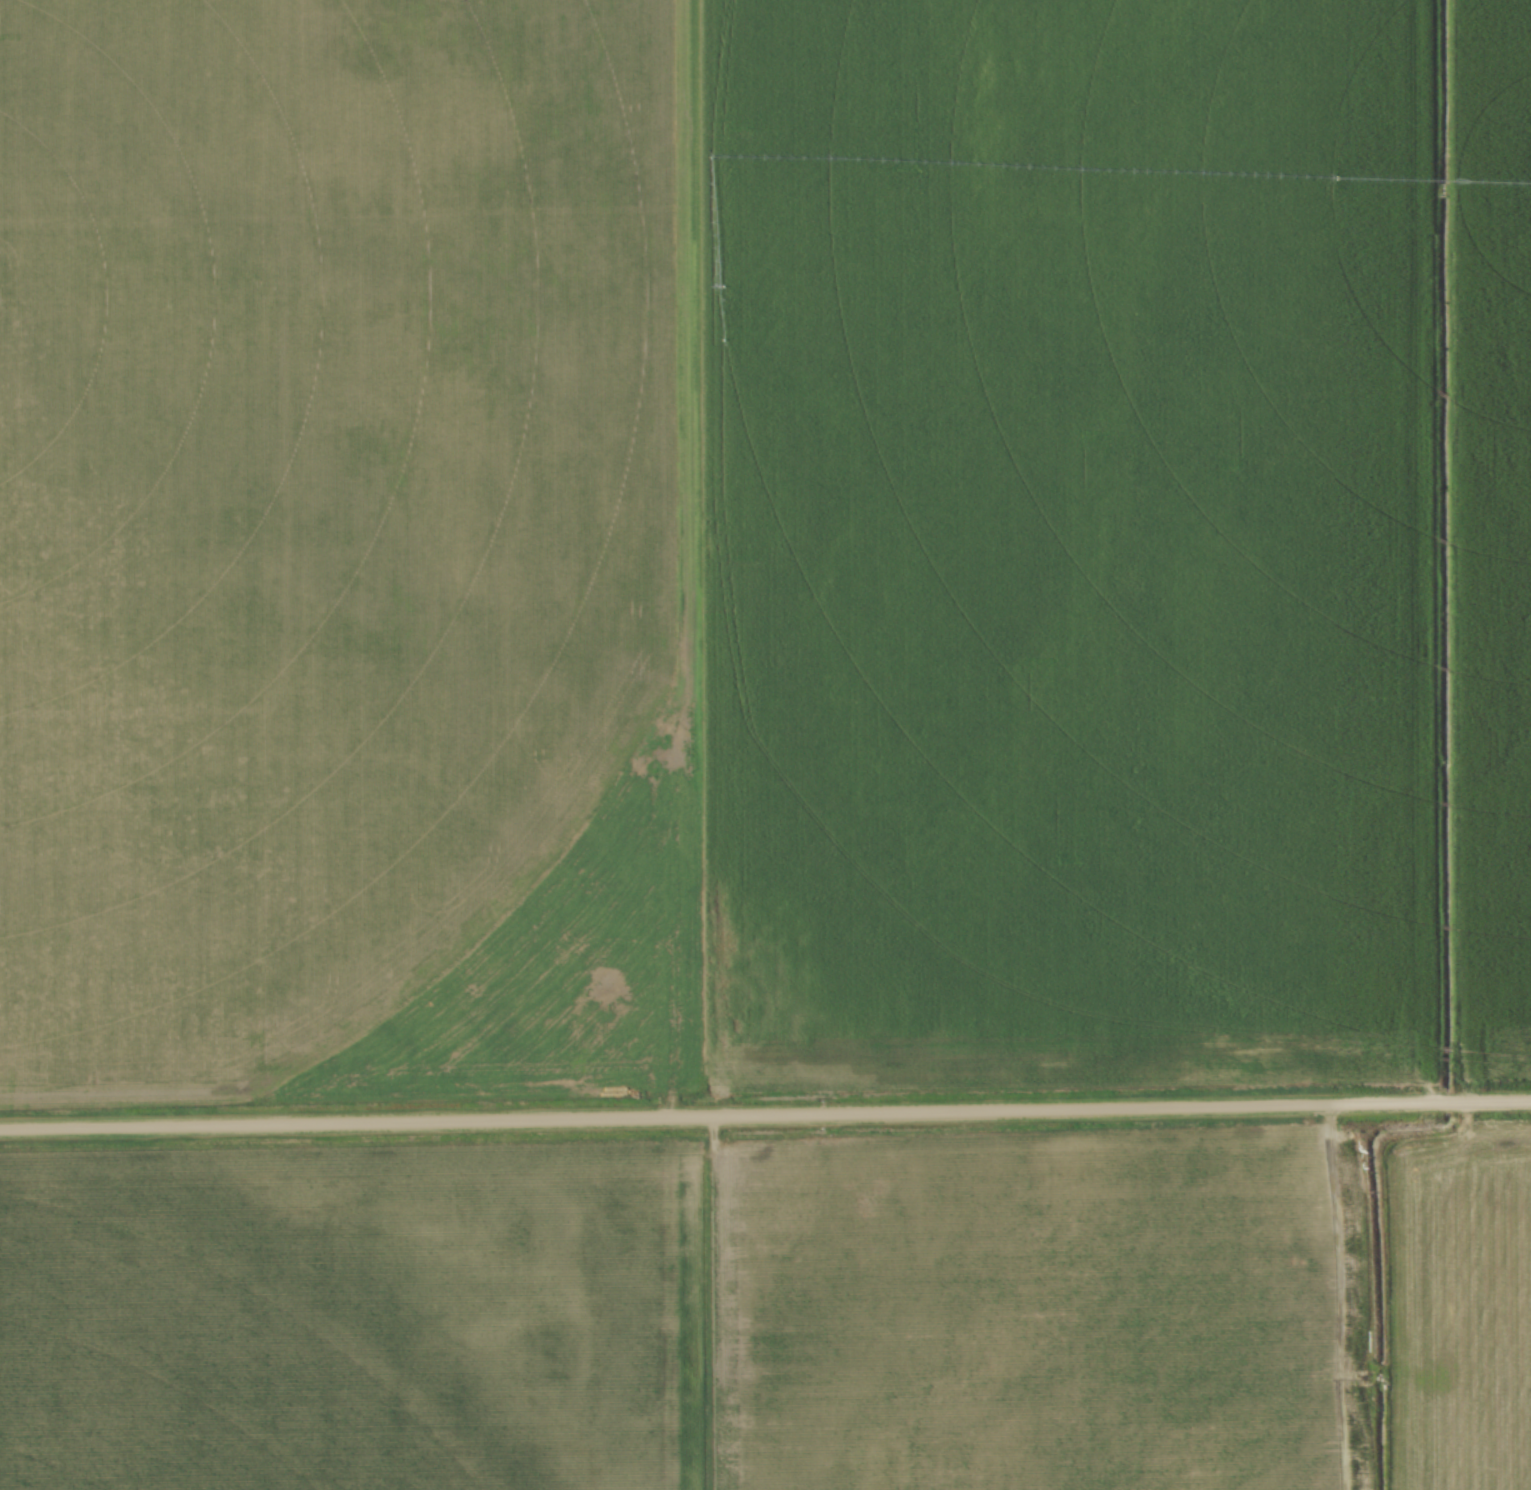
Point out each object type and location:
crop: (761, 545)
road: (765, 1117)
crop: (1132, 1316)
crop: (347, 1321)

